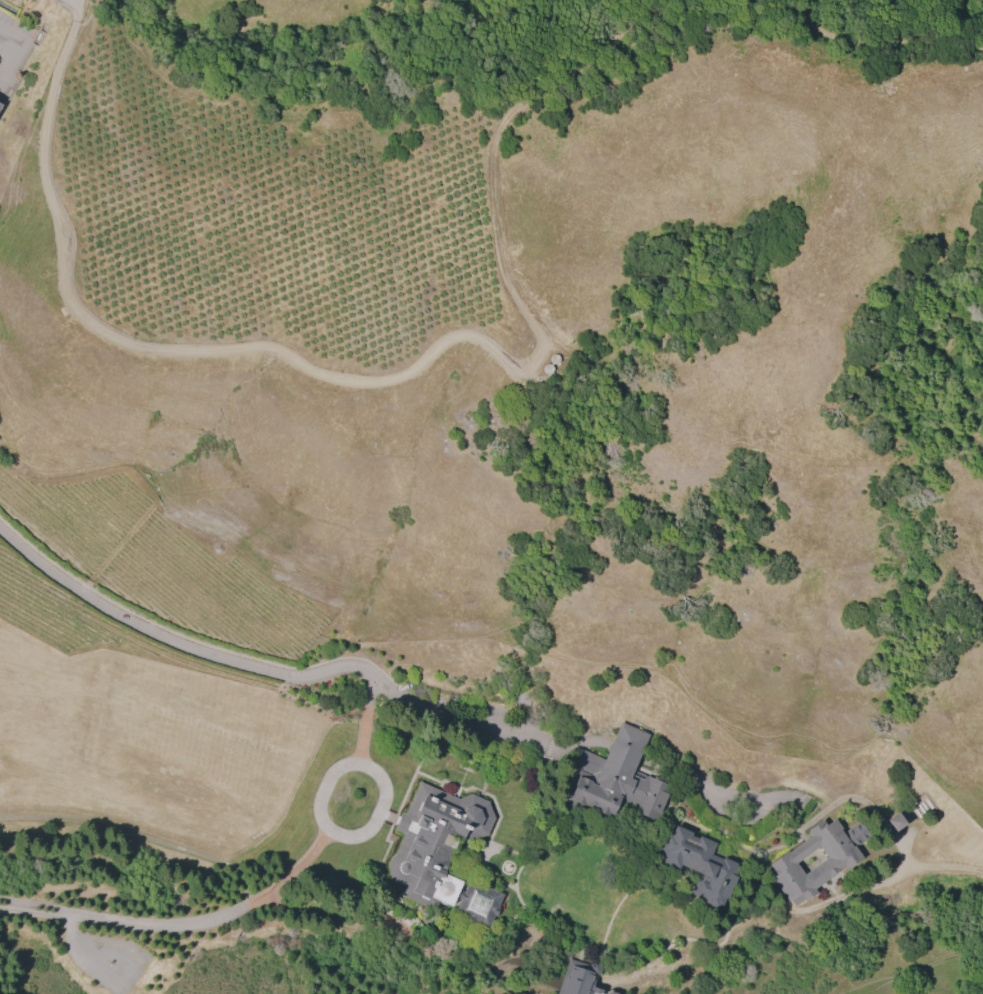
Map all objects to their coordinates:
parking lot: (18, 41)
road: (872, 49)
building: (2, 107)
road: (376, 381)
road: (214, 656)
parking lot: (492, 715)
road: (593, 742)
building: (620, 776)
road: (324, 790)
road: (492, 798)
parking lot: (814, 810)
building: (897, 822)
road: (719, 835)
building: (437, 842)
building: (830, 864)
building: (701, 866)
road: (895, 875)
road: (483, 879)
road: (516, 892)
building: (479, 904)
road: (747, 904)
road: (618, 905)
road: (348, 913)
road: (180, 926)
road: (75, 929)
road: (681, 942)
parking lot: (109, 957)
building: (578, 978)

